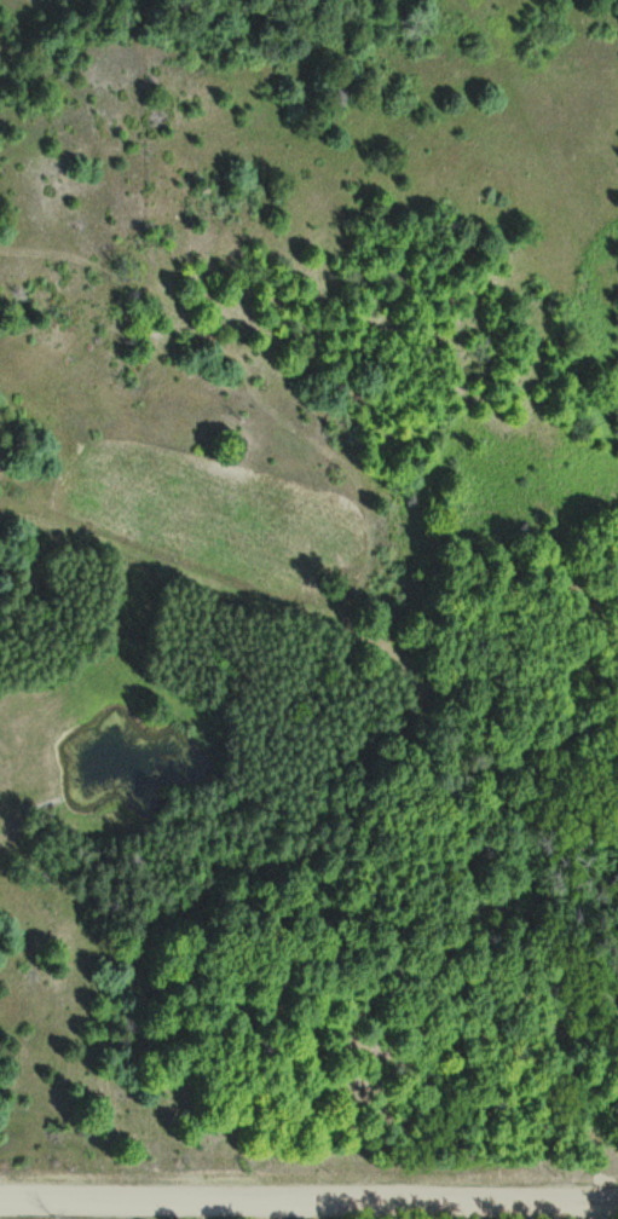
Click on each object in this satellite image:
road: (308, 1196)

